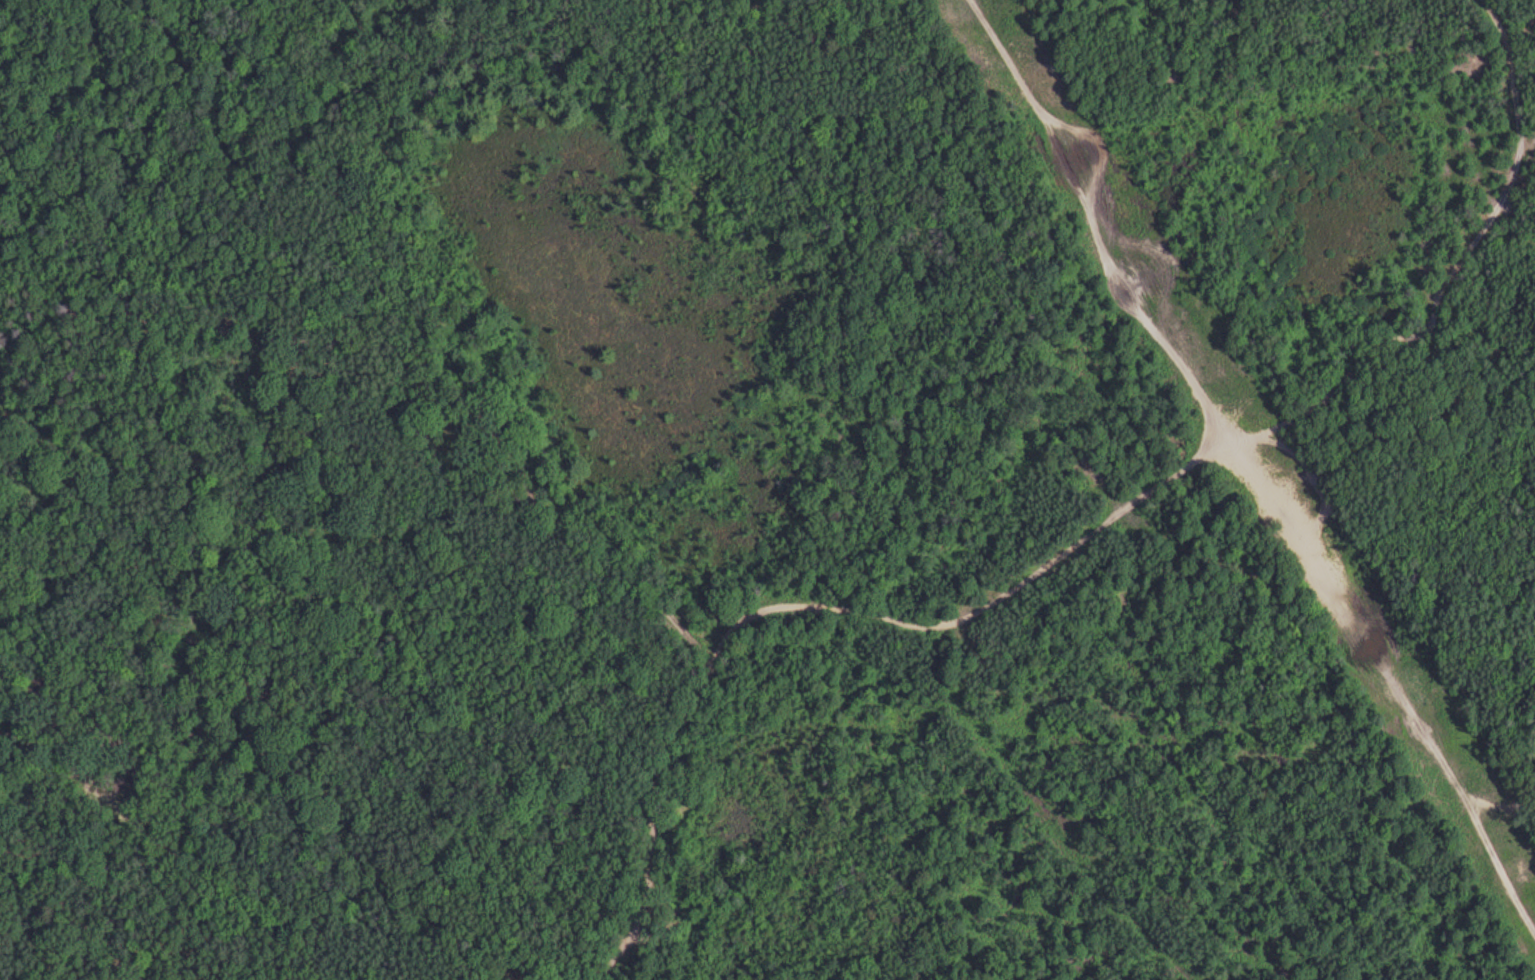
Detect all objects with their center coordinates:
road: (1449, 272)
road: (1186, 463)
road: (539, 519)
road: (1381, 689)

